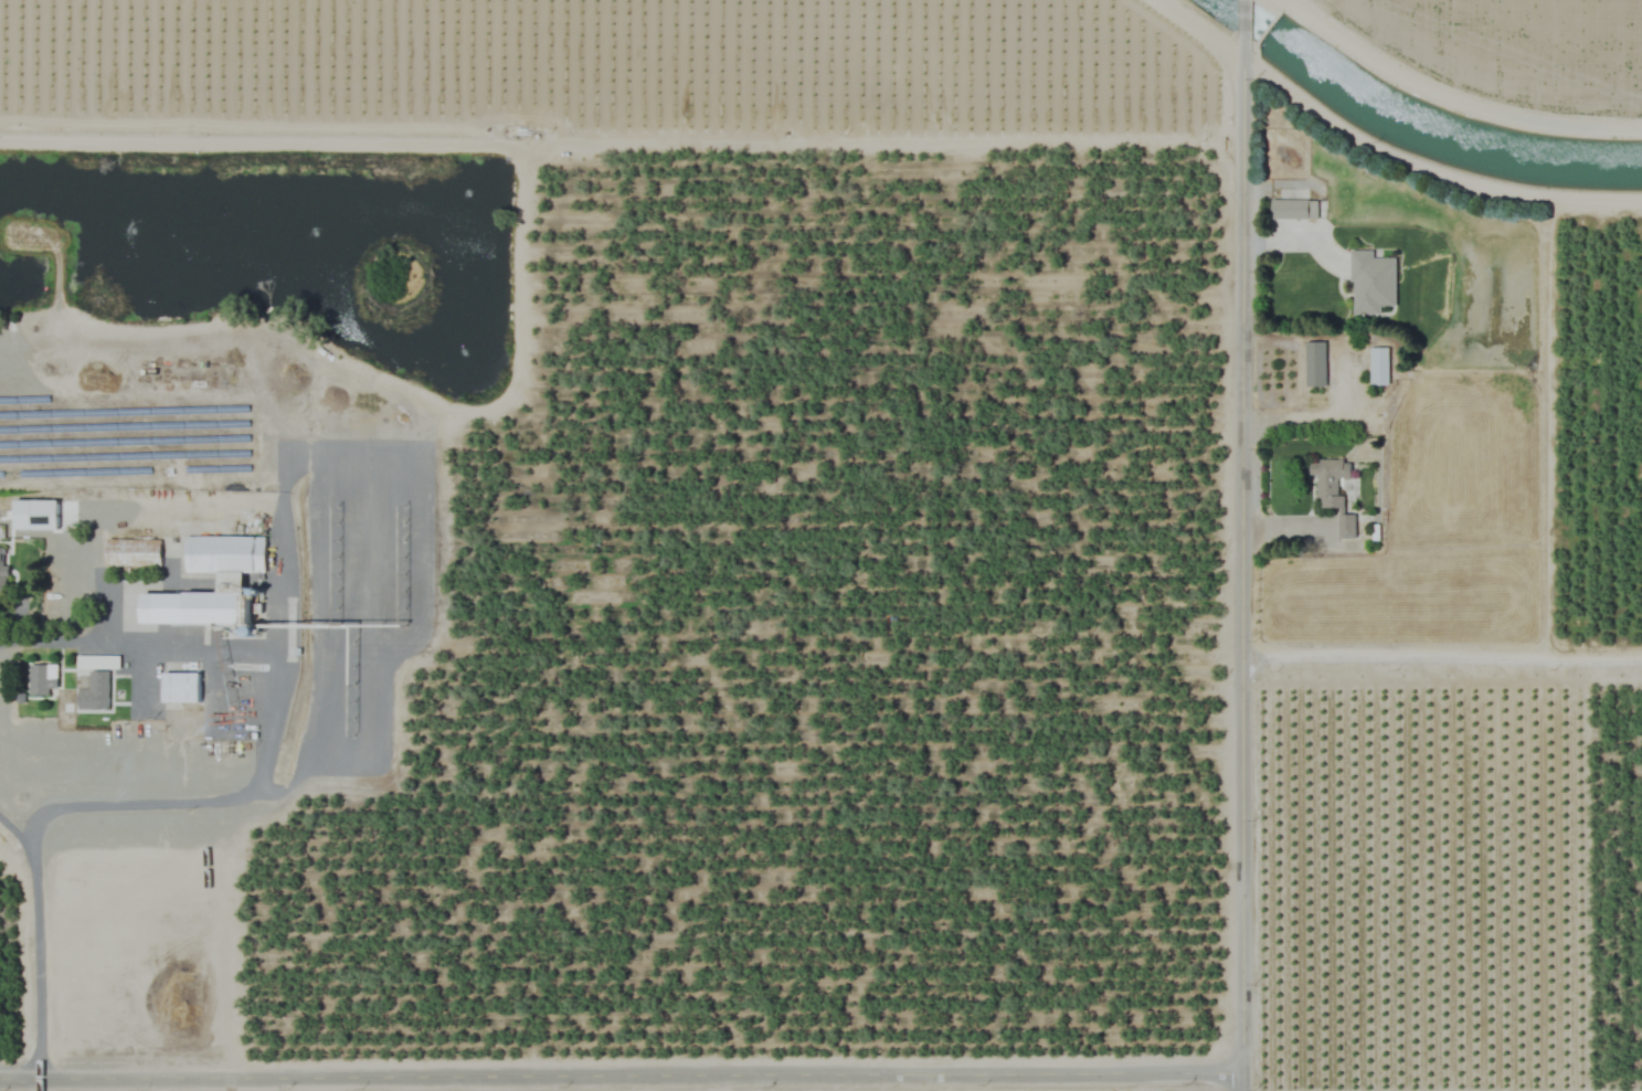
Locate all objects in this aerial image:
road: (1242, 18)
building: (1294, 209)
building: (1371, 283)
building: (1315, 364)
building: (1378, 367)
road: (1306, 422)
building: (1328, 481)
building: (1346, 527)
road: (279, 545)
building: (133, 552)
road: (1244, 563)
building: (2, 574)
building: (231, 583)
road: (1443, 652)
building: (42, 679)
building: (181, 687)
road: (267, 711)
road: (18, 830)
road: (36, 965)
road: (621, 1077)

